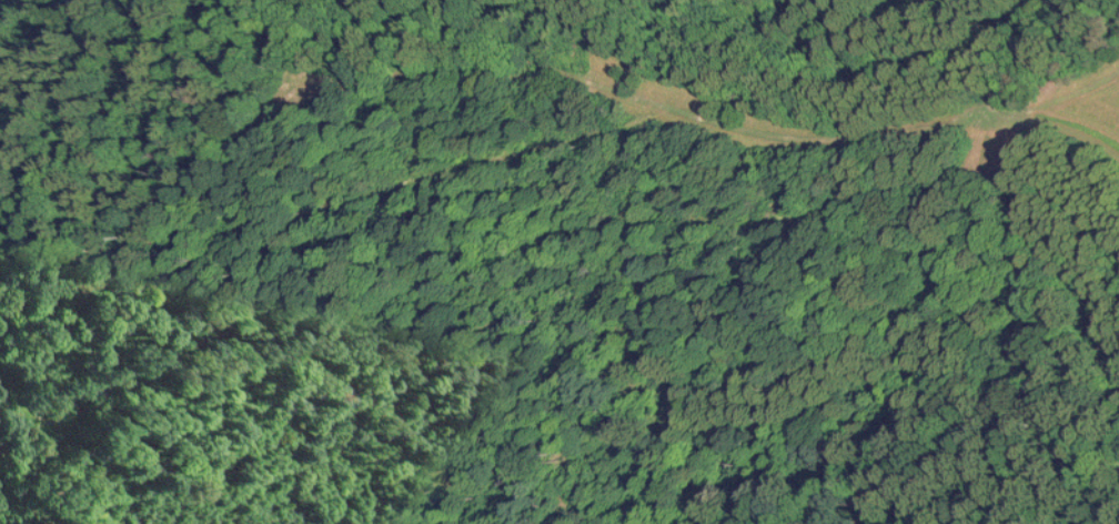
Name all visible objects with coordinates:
road: (974, 72)

